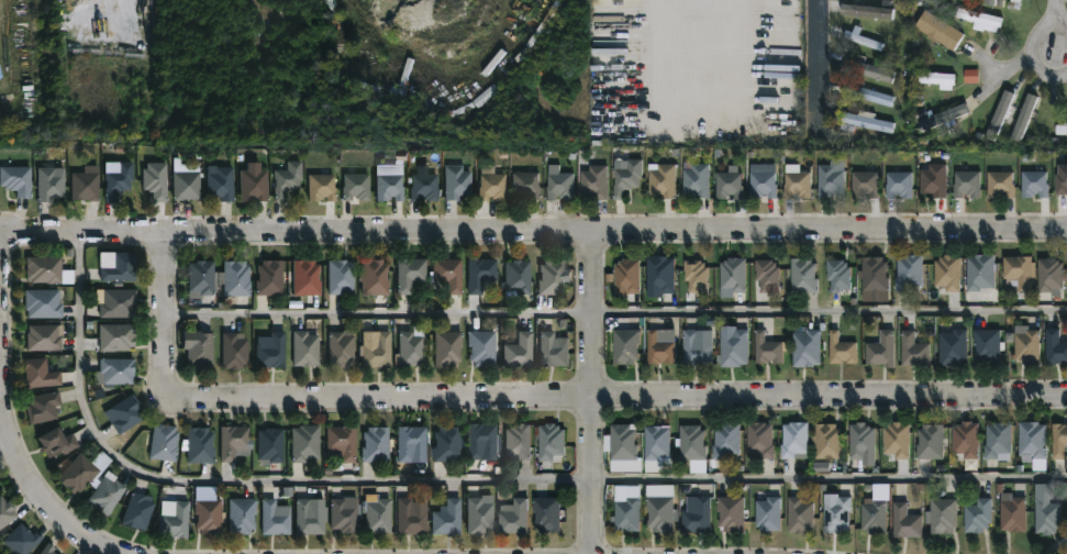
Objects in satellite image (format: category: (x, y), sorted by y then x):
building: (988, 0)
building: (1012, 3)
building: (865, 11)
road: (1056, 12)
building: (977, 16)
building: (937, 29)
road: (623, 32)
building: (863, 41)
road: (1031, 48)
road: (818, 58)
building: (867, 69)
road: (1003, 75)
building: (971, 77)
building: (935, 79)
building: (866, 93)
building: (943, 115)
building: (1000, 115)
building: (1024, 118)
building: (867, 121)
building: (1062, 128)
building: (625, 178)
building: (20, 179)
building: (121, 179)
building: (159, 179)
building: (291, 179)
building: (662, 179)
building: (696, 179)
building: (933, 180)
building: (1062, 180)
building: (224, 181)
building: (454, 181)
building: (593, 181)
building: (829, 181)
building: (53, 182)
building: (88, 184)
building: (190, 184)
building: (967, 184)
building: (1034, 184)
building: (258, 185)
building: (727, 185)
building: (762, 185)
building: (797, 185)
building: (864, 185)
building: (898, 185)
building: (1000, 185)
building: (355, 186)
building: (387, 186)
building: (421, 186)
building: (490, 186)
building: (524, 186)
building: (558, 186)
building: (320, 187)
road: (533, 233)
building: (124, 267)
building: (47, 268)
building: (908, 272)
building: (979, 272)
building: (1018, 272)
building: (407, 273)
building: (478, 273)
building: (947, 273)
building: (446, 274)
building: (659, 274)
building: (874, 274)
building: (337, 275)
building: (626, 275)
building: (694, 275)
building: (732, 275)
building: (766, 275)
building: (837, 275)
building: (1048, 275)
building: (302, 276)
building: (371, 276)
building: (549, 276)
building: (802, 276)
building: (269, 277)
building: (514, 277)
building: (204, 278)
building: (238, 278)
building: (122, 302)
building: (46, 303)
road: (615, 312)
building: (119, 336)
building: (46, 337)
building: (951, 345)
building: (986, 345)
building: (624, 346)
building: (1025, 346)
building: (303, 347)
building: (409, 347)
building: (444, 347)
building: (479, 347)
building: (1055, 347)
building: (338, 348)
building: (733, 348)
building: (767, 348)
building: (805, 348)
building: (198, 350)
building: (658, 350)
building: (694, 350)
building: (840, 350)
building: (880, 350)
building: (913, 350)
building: (232, 351)
building: (376, 351)
building: (516, 351)
building: (551, 351)
building: (269, 352)
building: (121, 369)
building: (43, 374)
road: (590, 392)
road: (540, 397)
building: (46, 407)
building: (127, 414)
building: (477, 439)
building: (965, 439)
building: (793, 440)
building: (896, 440)
building: (997, 440)
building: (516, 441)
building: (548, 441)
building: (725, 441)
building: (860, 441)
building: (1031, 441)
building: (1058, 441)
building: (62, 442)
building: (167, 442)
building: (237, 442)
building: (302, 442)
building: (338, 442)
building: (409, 442)
building: (621, 442)
building: (654, 442)
building: (758, 442)
building: (826, 442)
building: (930, 442)
building: (270, 443)
building: (373, 443)
building: (444, 443)
building: (690, 443)
building: (203, 445)
building: (81, 474)
road: (471, 480)
building: (0, 488)
building: (110, 491)
road: (42, 505)
building: (141, 511)
building: (7, 512)
building: (477, 513)
building: (658, 513)
building: (730, 513)
building: (212, 514)
building: (244, 514)
building: (376, 514)
building: (545, 514)
building: (626, 514)
building: (767, 514)
building: (799, 514)
building: (1013, 514)
building: (341, 516)
building: (836, 516)
building: (942, 516)
building: (977, 516)
building: (409, 517)
building: (513, 517)
building: (697, 517)
building: (1047, 517)
building: (310, 518)
building: (447, 518)
building: (874, 518)
building: (176, 519)
building: (278, 519)
building: (905, 522)
building: (24, 539)
building: (51, 549)

